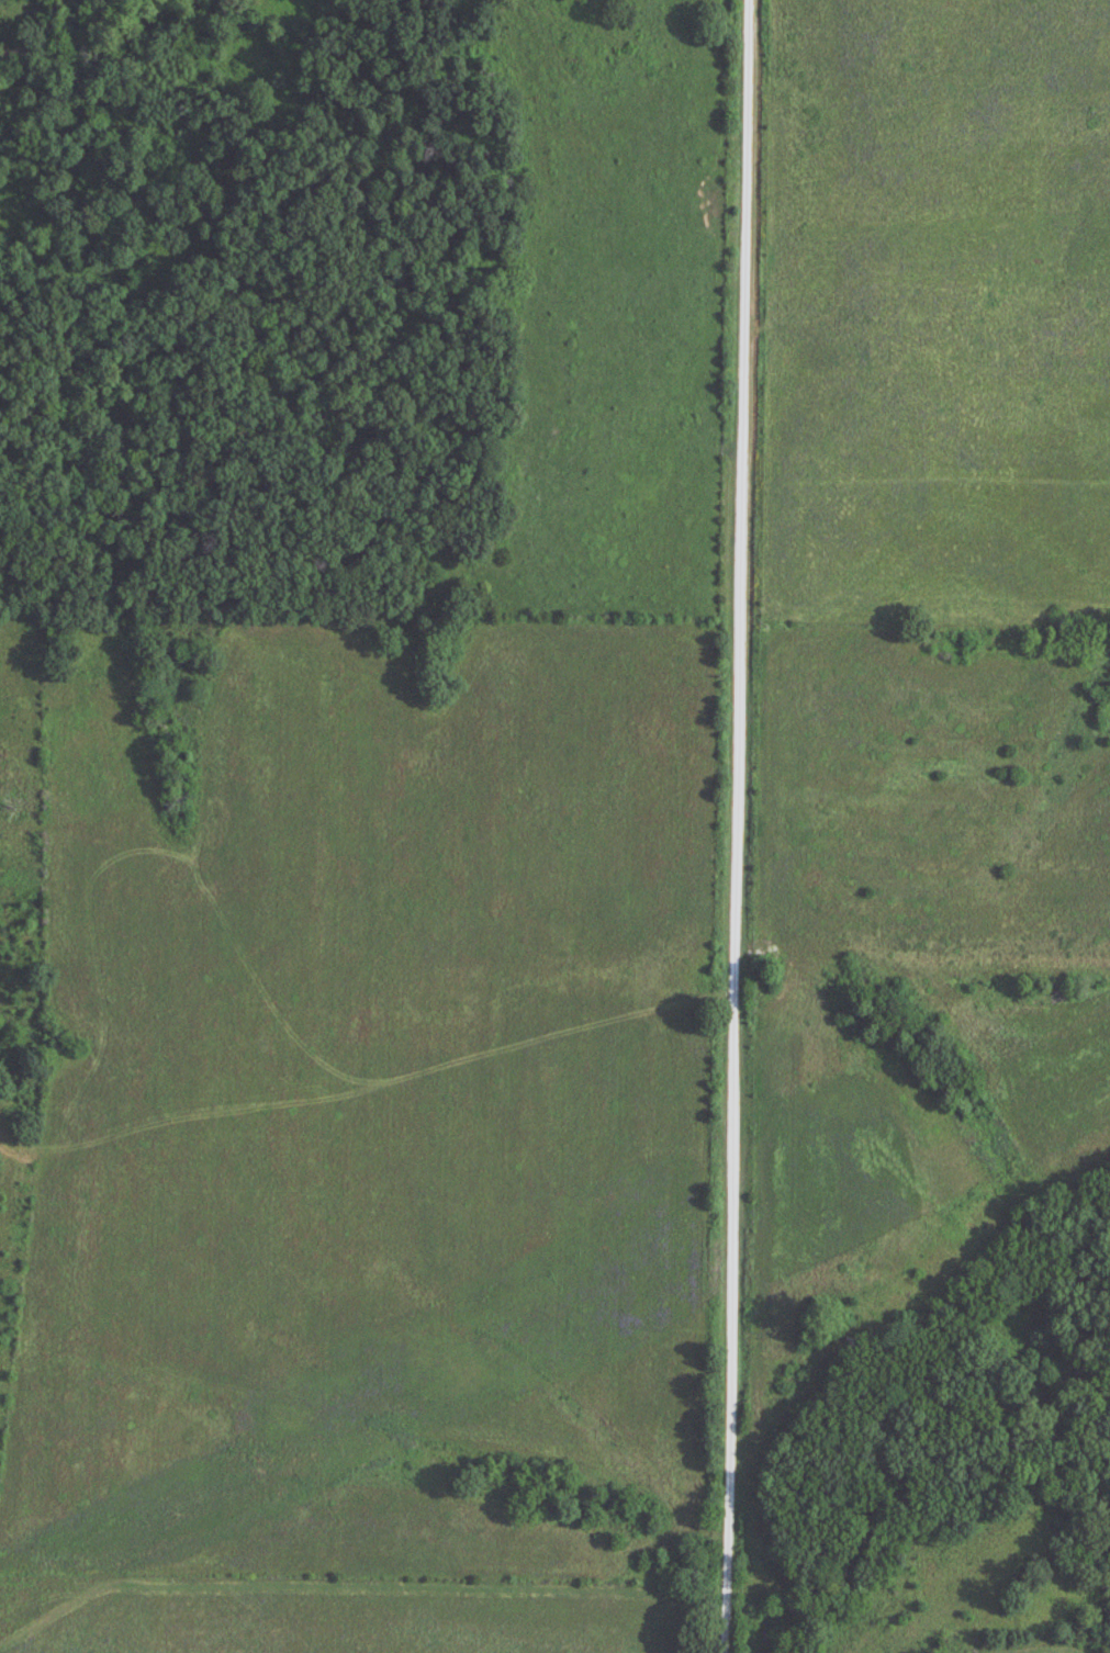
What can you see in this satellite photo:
road: (735, 826)

